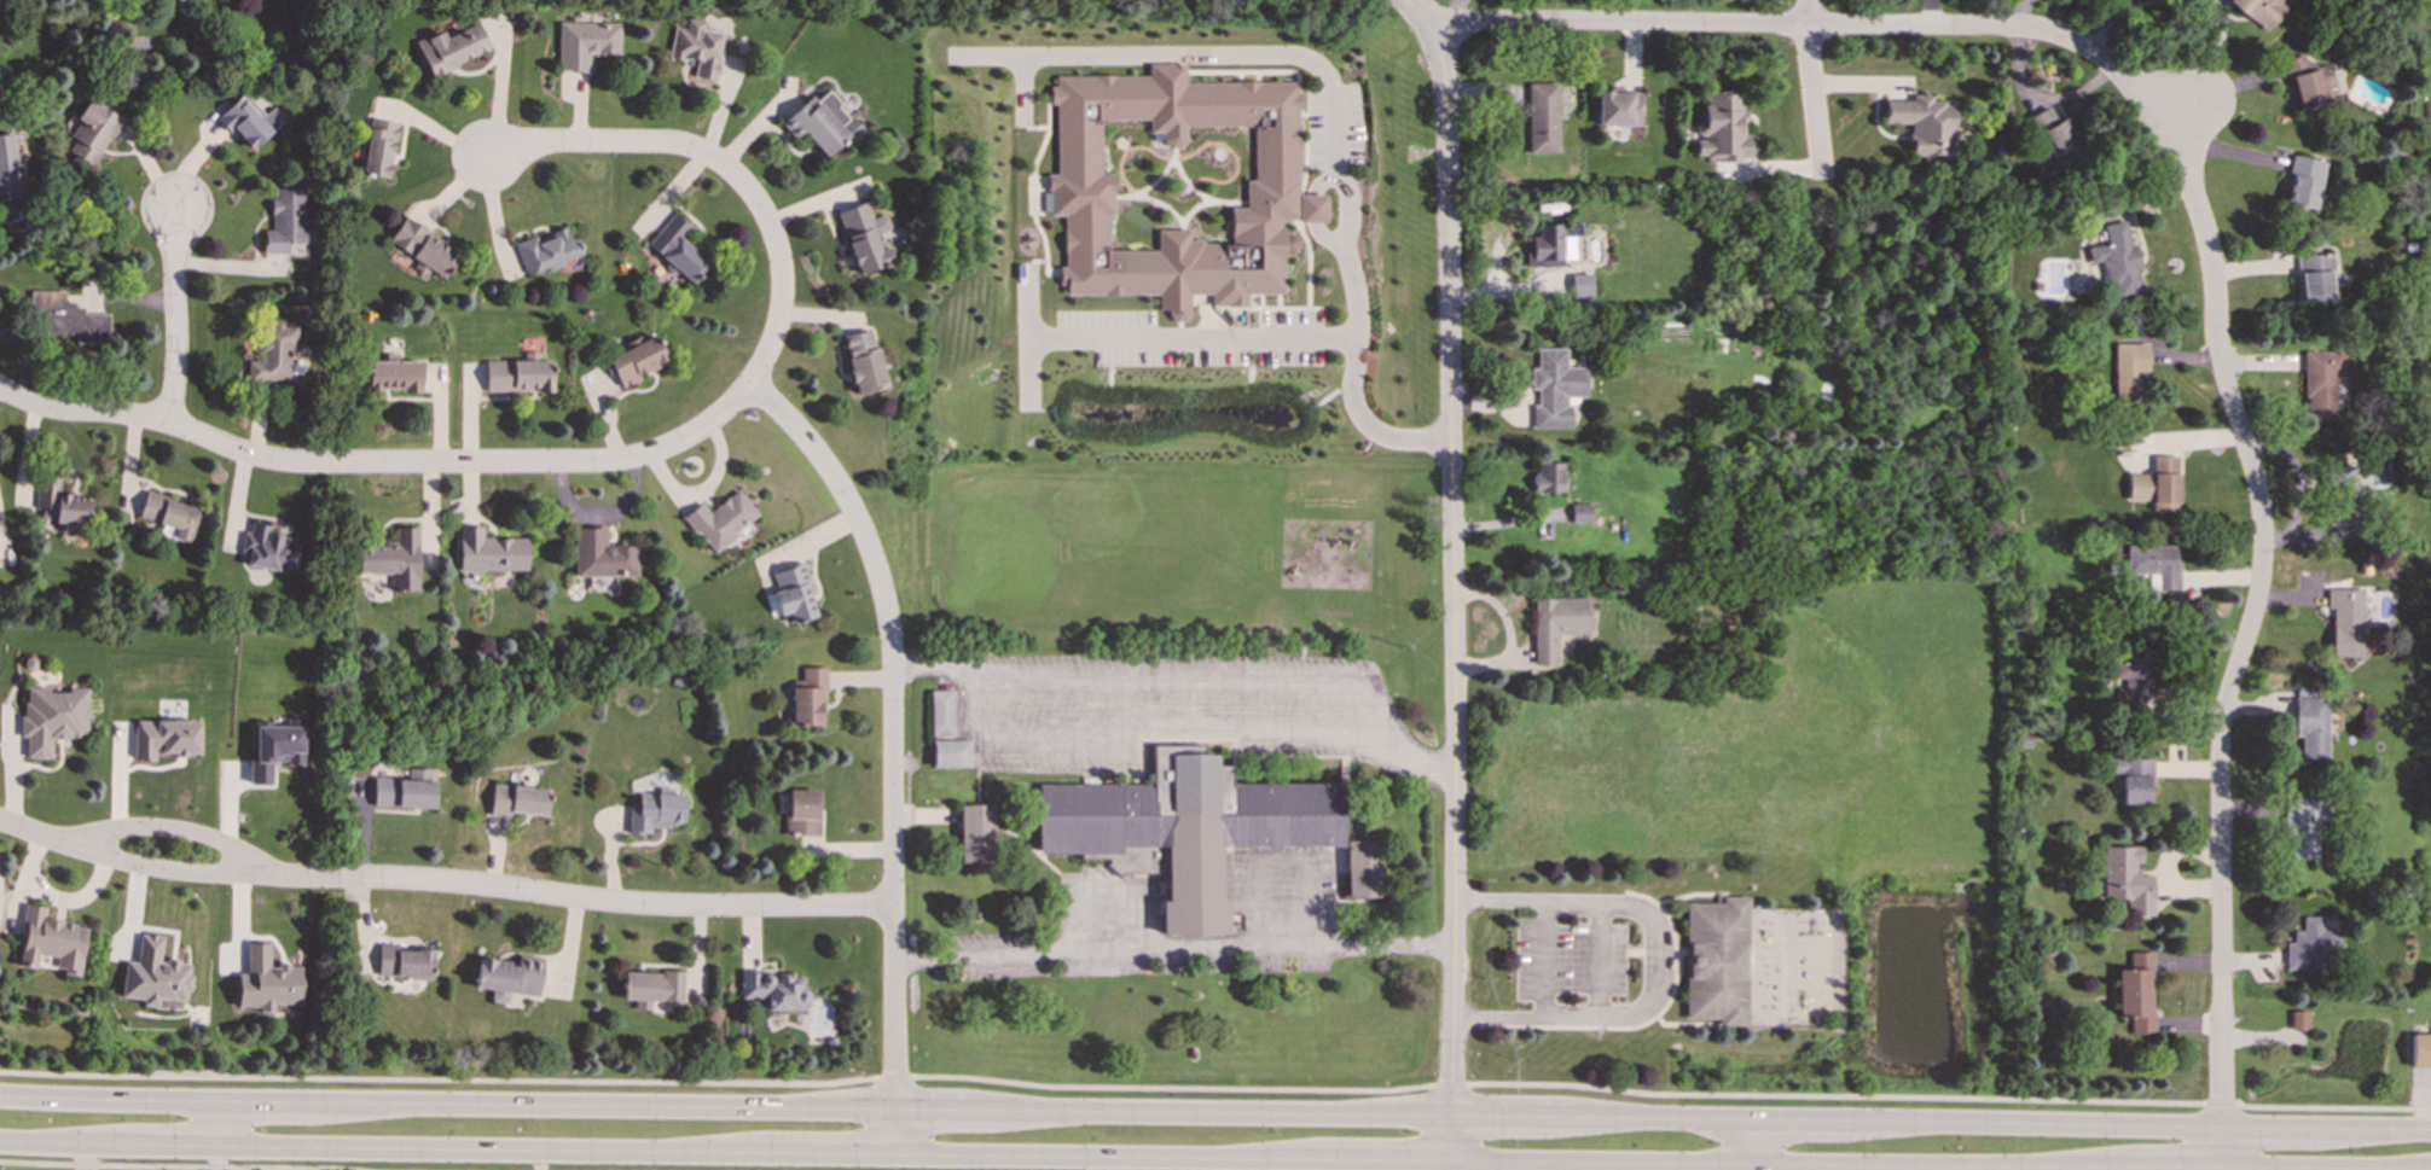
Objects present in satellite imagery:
building: (2259, 11)
road: (1426, 17)
road: (1812, 25)
building: (585, 45)
building: (452, 48)
building: (697, 48)
road: (1307, 62)
building: (2308, 81)
road: (1810, 82)
road: (2041, 98)
road: (2197, 104)
building: (1618, 110)
building: (1543, 118)
building: (248, 122)
building: (818, 123)
building: (1924, 126)
building: (1723, 128)
building: (88, 133)
building: (2050, 138)
building: (378, 149)
building: (6, 156)
road: (723, 167)
building: (2303, 182)
building: (1081, 188)
building: (285, 222)
building: (864, 237)
building: (1551, 246)
building: (423, 248)
building: (546, 249)
building: (678, 250)
building: (2116, 260)
building: (2314, 278)
building: (1582, 285)
road: (174, 307)
building: (77, 324)
road: (1280, 334)
building: (272, 353)
building: (636, 360)
building: (863, 361)
building: (2128, 372)
building: (518, 374)
building: (395, 376)
building: (2320, 383)
building: (1555, 388)
road: (379, 464)
building: (1548, 477)
building: (2156, 484)
road: (703, 489)
building: (2339, 493)
building: (60, 502)
building: (1580, 512)
building: (169, 514)
road: (603, 516)
building: (719, 519)
building: (268, 548)
road: (1451, 549)
building: (489, 551)
building: (601, 554)
building: (394, 559)
building: (2154, 563)
building: (791, 593)
building: (1556, 623)
road: (2245, 639)
road: (936, 665)
road: (1195, 676)
building: (2134, 679)
building: (807, 698)
building: (941, 712)
building: (52, 717)
road: (893, 724)
building: (2310, 726)
building: (164, 738)
road: (1149, 738)
building: (274, 749)
building: (951, 753)
road: (1415, 753)
building: (2133, 779)
building: (405, 790)
building: (518, 799)
building: (654, 811)
building: (801, 811)
building: (2303, 825)
building: (1184, 828)
building: (977, 833)
road: (163, 856)
building: (1363, 868)
building: (2125, 879)
road: (610, 903)
building: (50, 941)
building: (2309, 944)
road: (1173, 951)
road: (1652, 957)
building: (1716, 960)
building: (402, 961)
building: (152, 973)
building: (507, 977)
building: (266, 980)
building: (650, 986)
building: (773, 990)
building: (2135, 993)
building: (2298, 1020)
building: (2420, 1049)
road: (894, 1077)
road: (440, 1079)
road: (1449, 1085)
road: (1171, 1088)
road: (1834, 1095)
road: (109, 1096)
road: (263, 1100)
road: (602, 1104)
road: (2221, 1104)
road: (932, 1107)
road: (2333, 1107)
road: (1209, 1111)
road: (1503, 1113)
road: (1590, 1114)
road: (1690, 1114)
road: (1794, 1116)
road: (2027, 1120)
road: (219, 1122)
road: (2264, 1124)
road: (2369, 1125)
road: (895, 1130)
road: (1452, 1136)
road: (1754, 1137)
road: (63, 1142)
road: (172, 1145)
road: (487, 1148)
road: (826, 1152)
road: (87, 1156)
road: (1106, 1156)
road: (219, 1157)
road: (1383, 1159)
road: (1542, 1159)
road: (1878, 1163)
road: (1452, 1164)
road: (1739, 1164)
road: (2174, 1164)
road: (2326, 1165)
road: (167, 1166)

